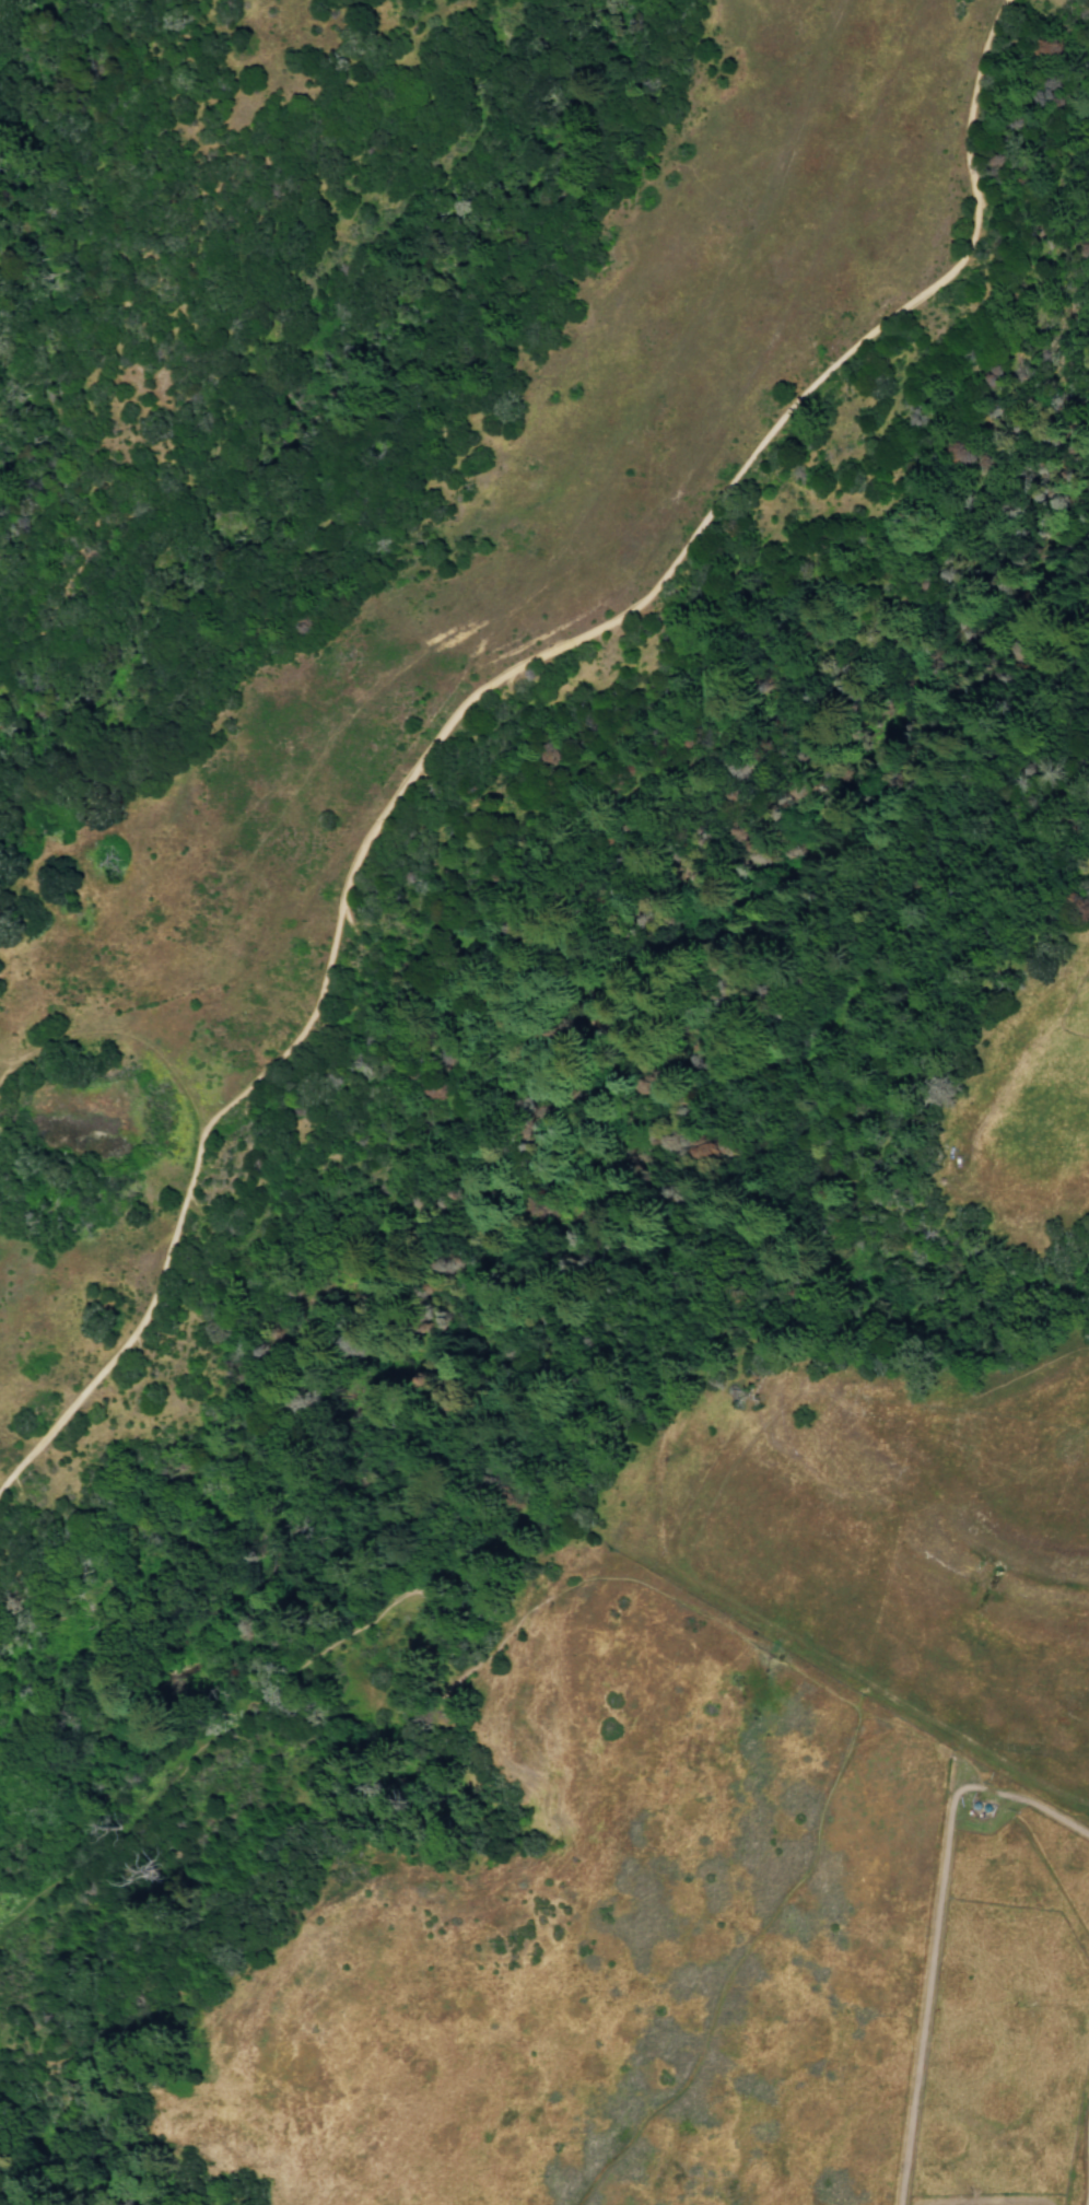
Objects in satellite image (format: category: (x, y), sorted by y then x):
road: (472, 700)
road: (127, 1032)
road: (3, 1064)
road: (3, 1072)
crop: (862, 1298)
road: (618, 1579)
water tower: (976, 1806)
water tower: (987, 1809)
road: (937, 1936)
road: (1087, 2196)

